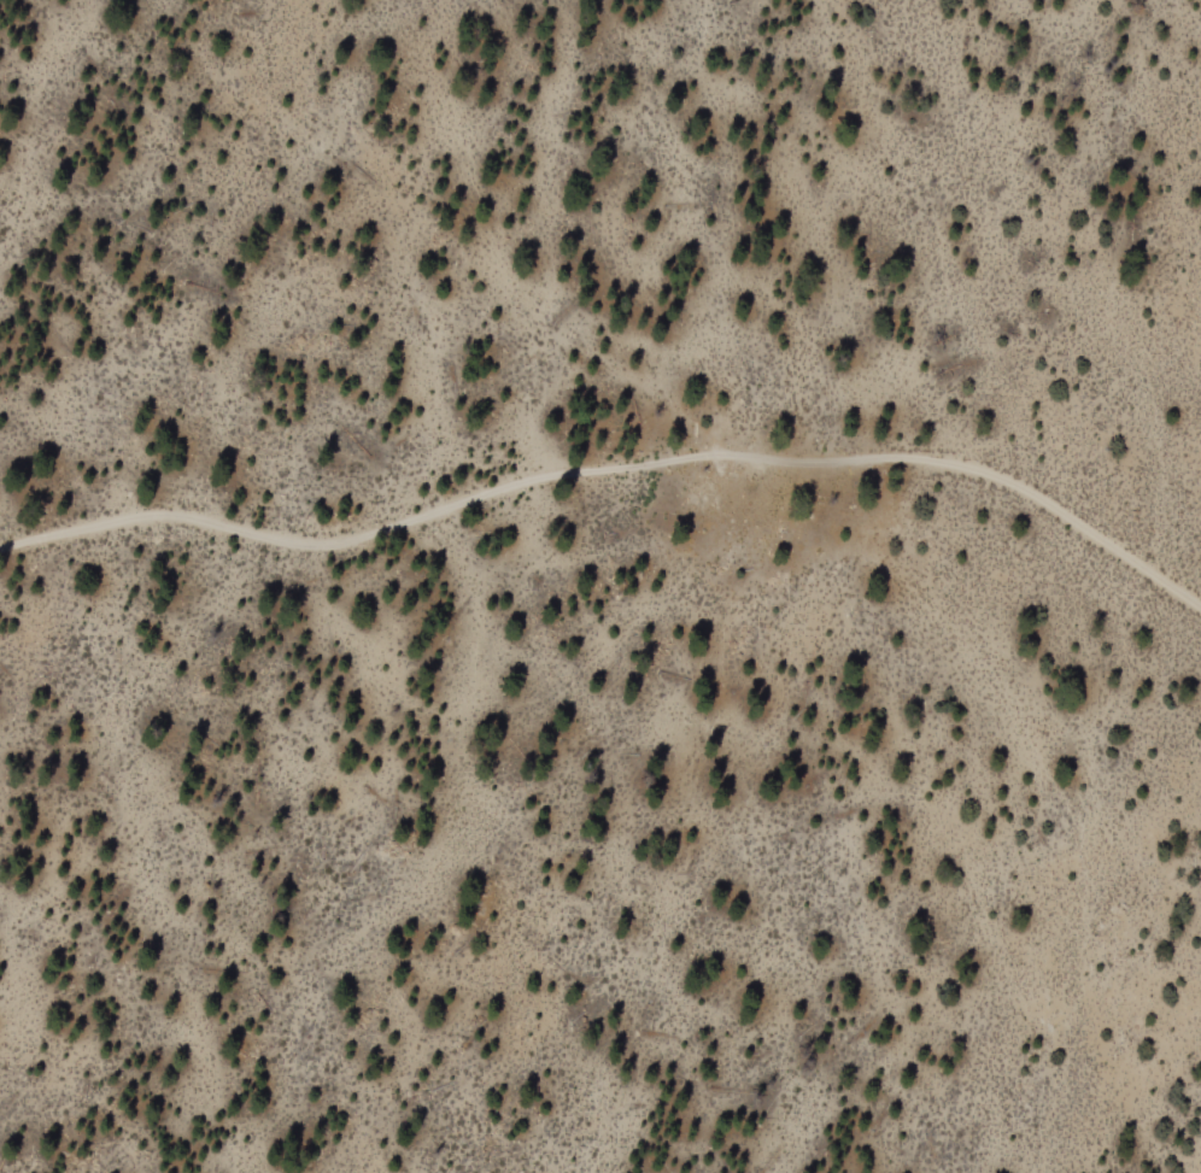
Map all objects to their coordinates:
road: (610, 469)

